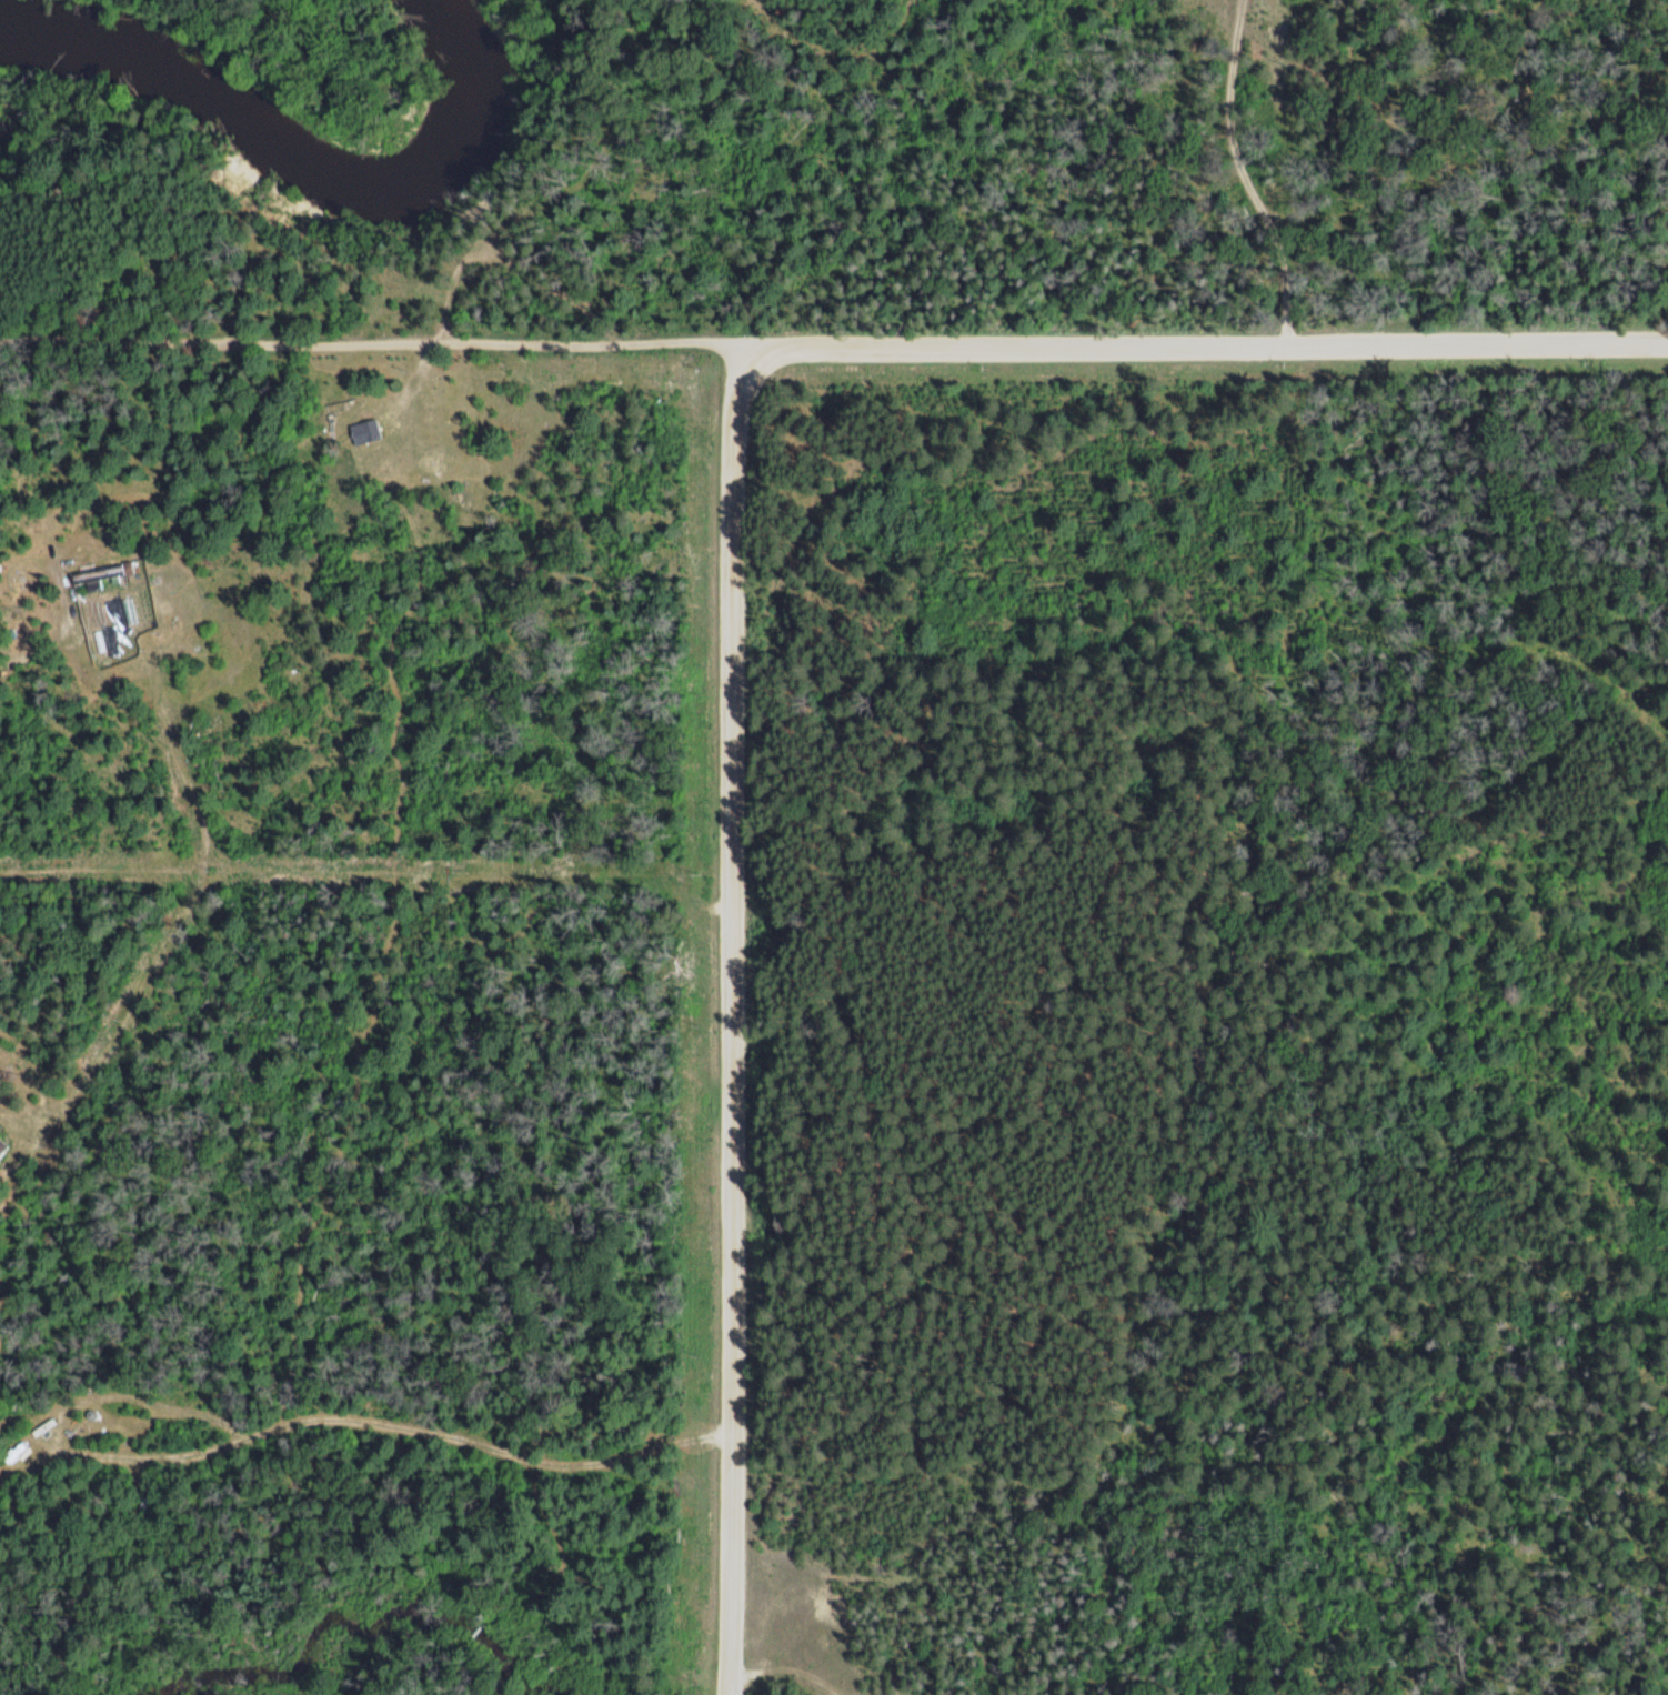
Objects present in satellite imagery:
river: (299, 153)
road: (1223, 181)
road: (373, 333)
road: (1205, 352)
road: (22, 417)
road: (740, 421)
building: (362, 431)
building: (149, 561)
road: (735, 1090)
building: (1, 1146)

